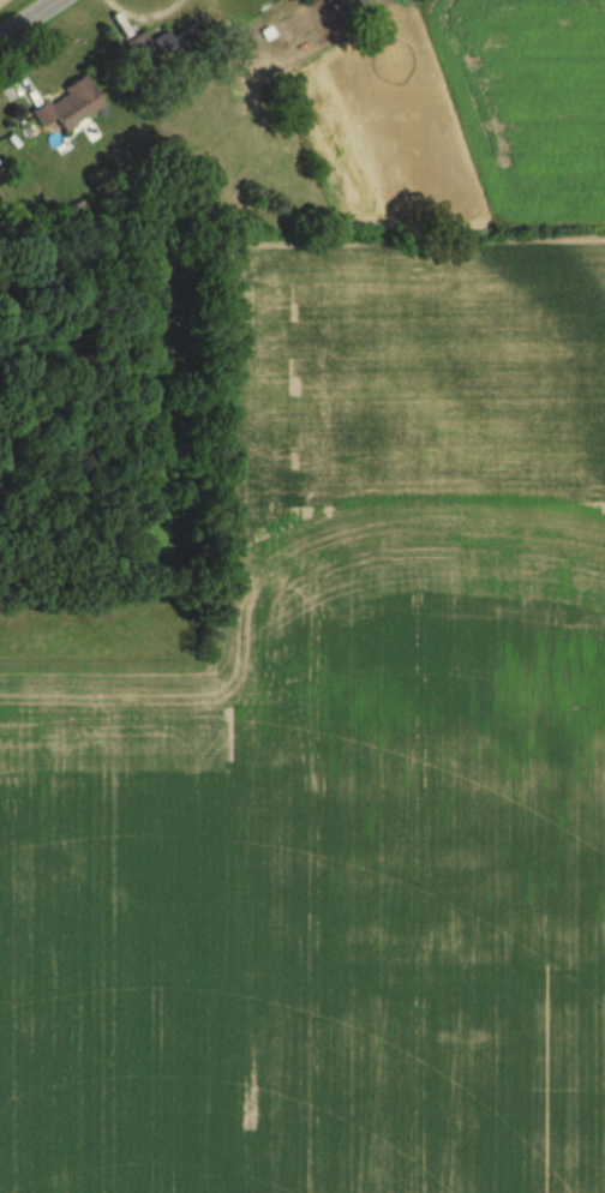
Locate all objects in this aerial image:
road: (26, 18)
building: (169, 41)
building: (68, 104)

